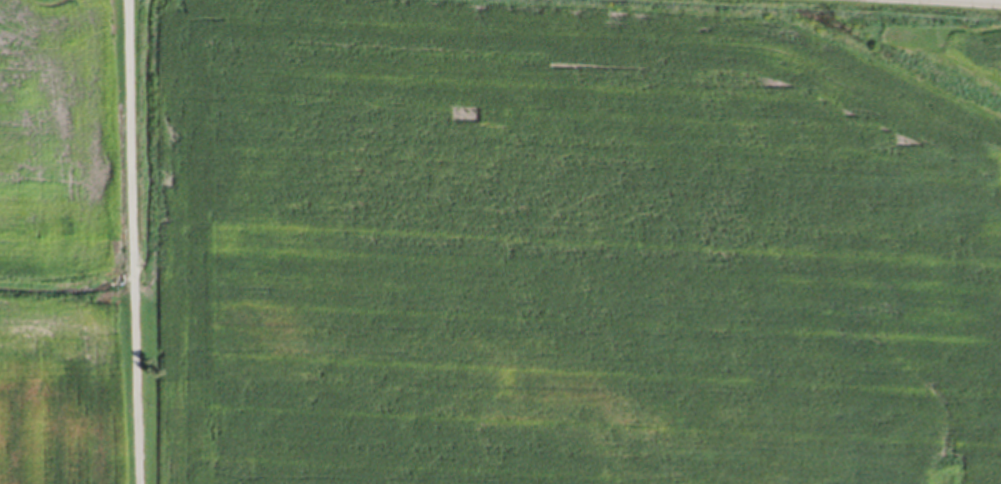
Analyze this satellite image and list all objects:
road: (978, 1)
road: (133, 241)

